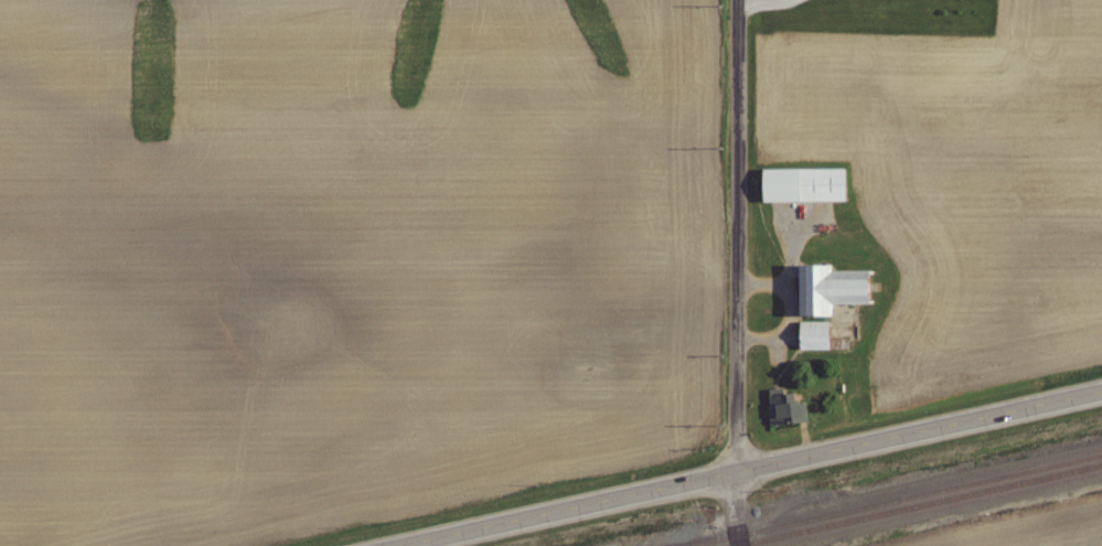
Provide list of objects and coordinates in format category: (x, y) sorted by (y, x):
crop: (962, 180)
crop: (336, 256)
road: (735, 272)
road: (785, 277)
road: (781, 331)
road: (756, 469)
railway: (894, 500)
railway: (921, 506)
crop: (1041, 533)

